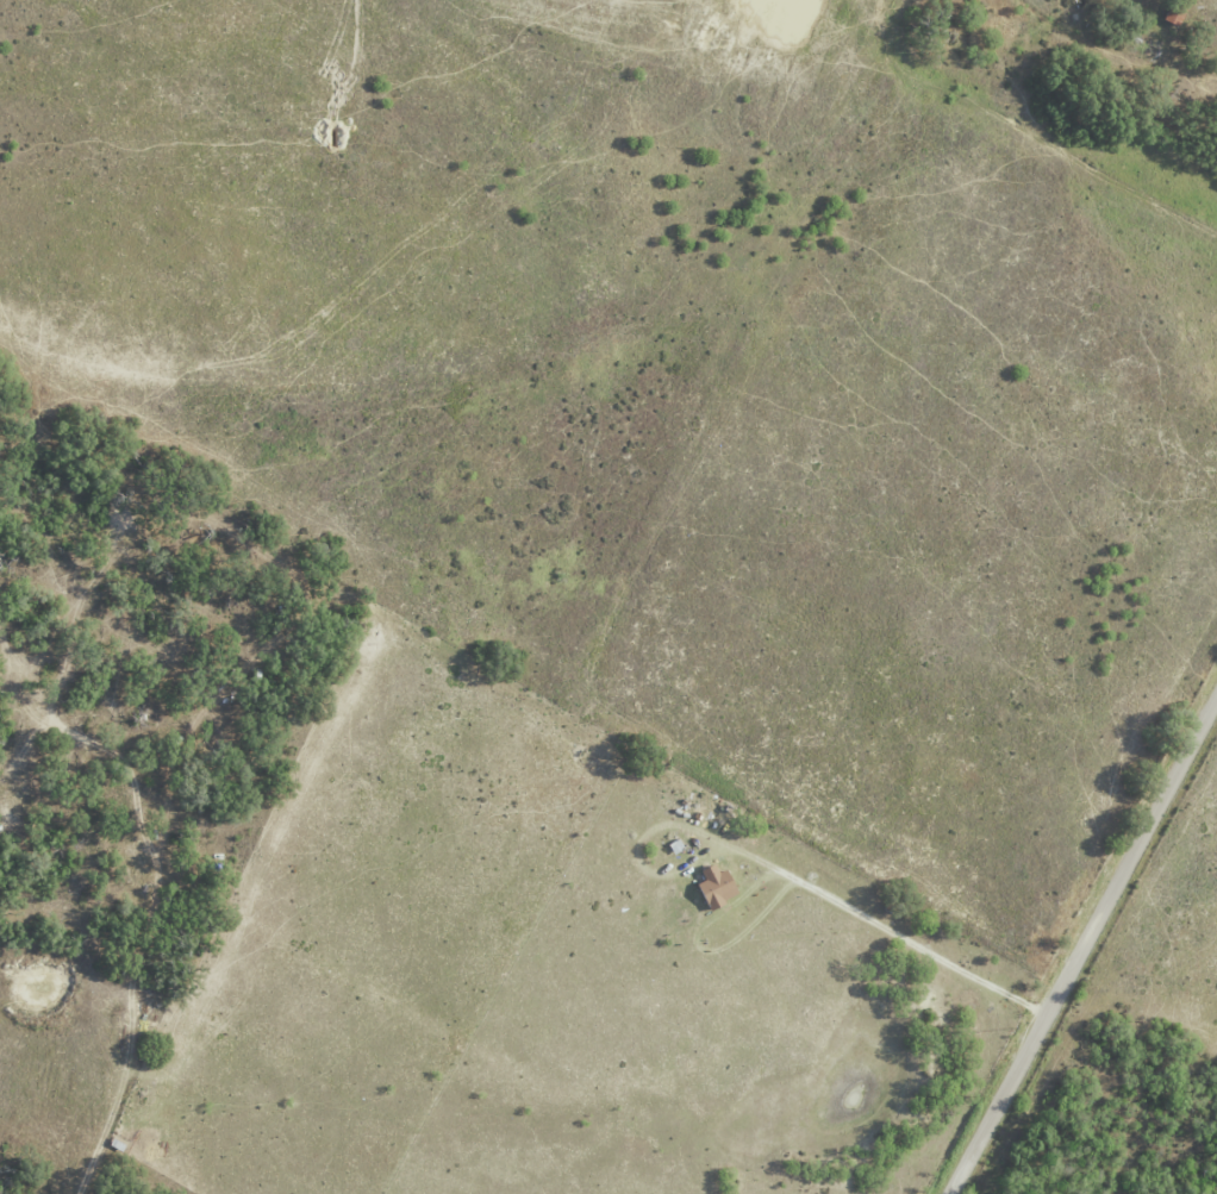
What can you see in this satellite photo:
building: (720, 887)
road: (884, 924)
road: (1079, 942)

